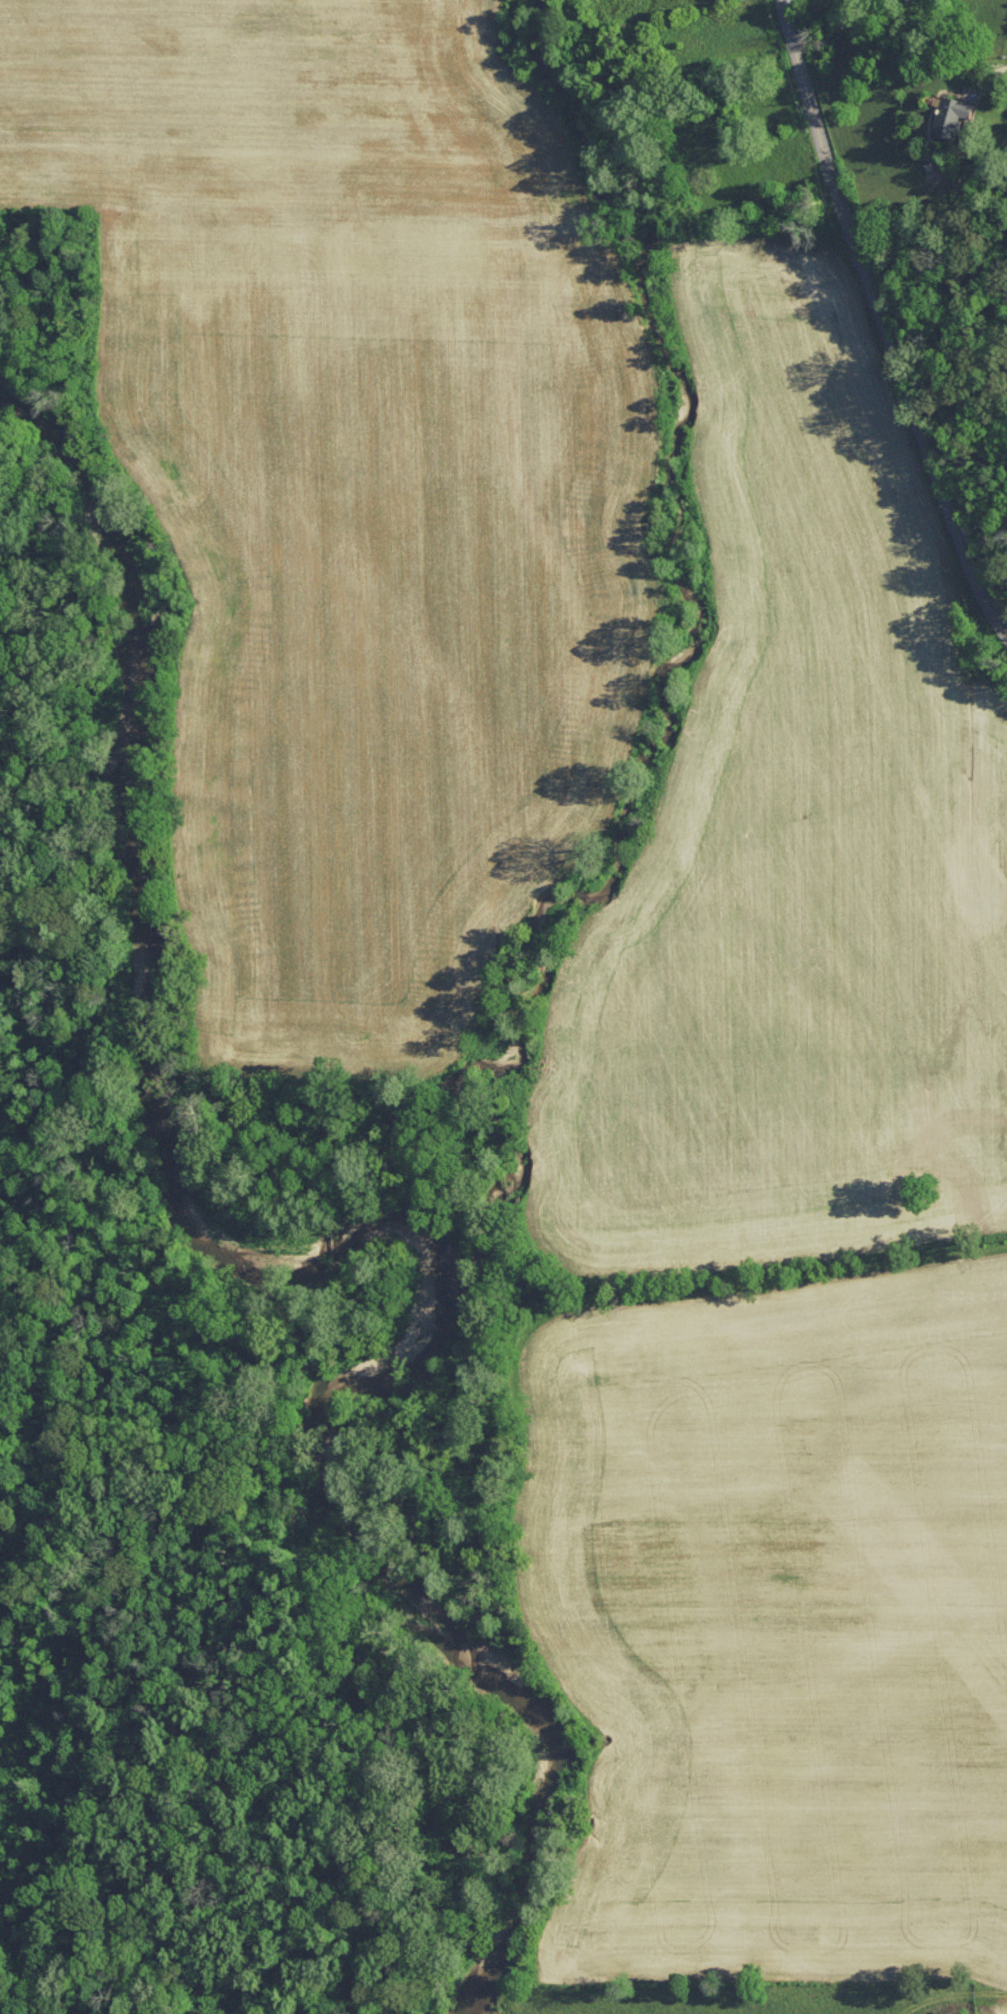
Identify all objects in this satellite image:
building: (950, 114)
road: (889, 285)

